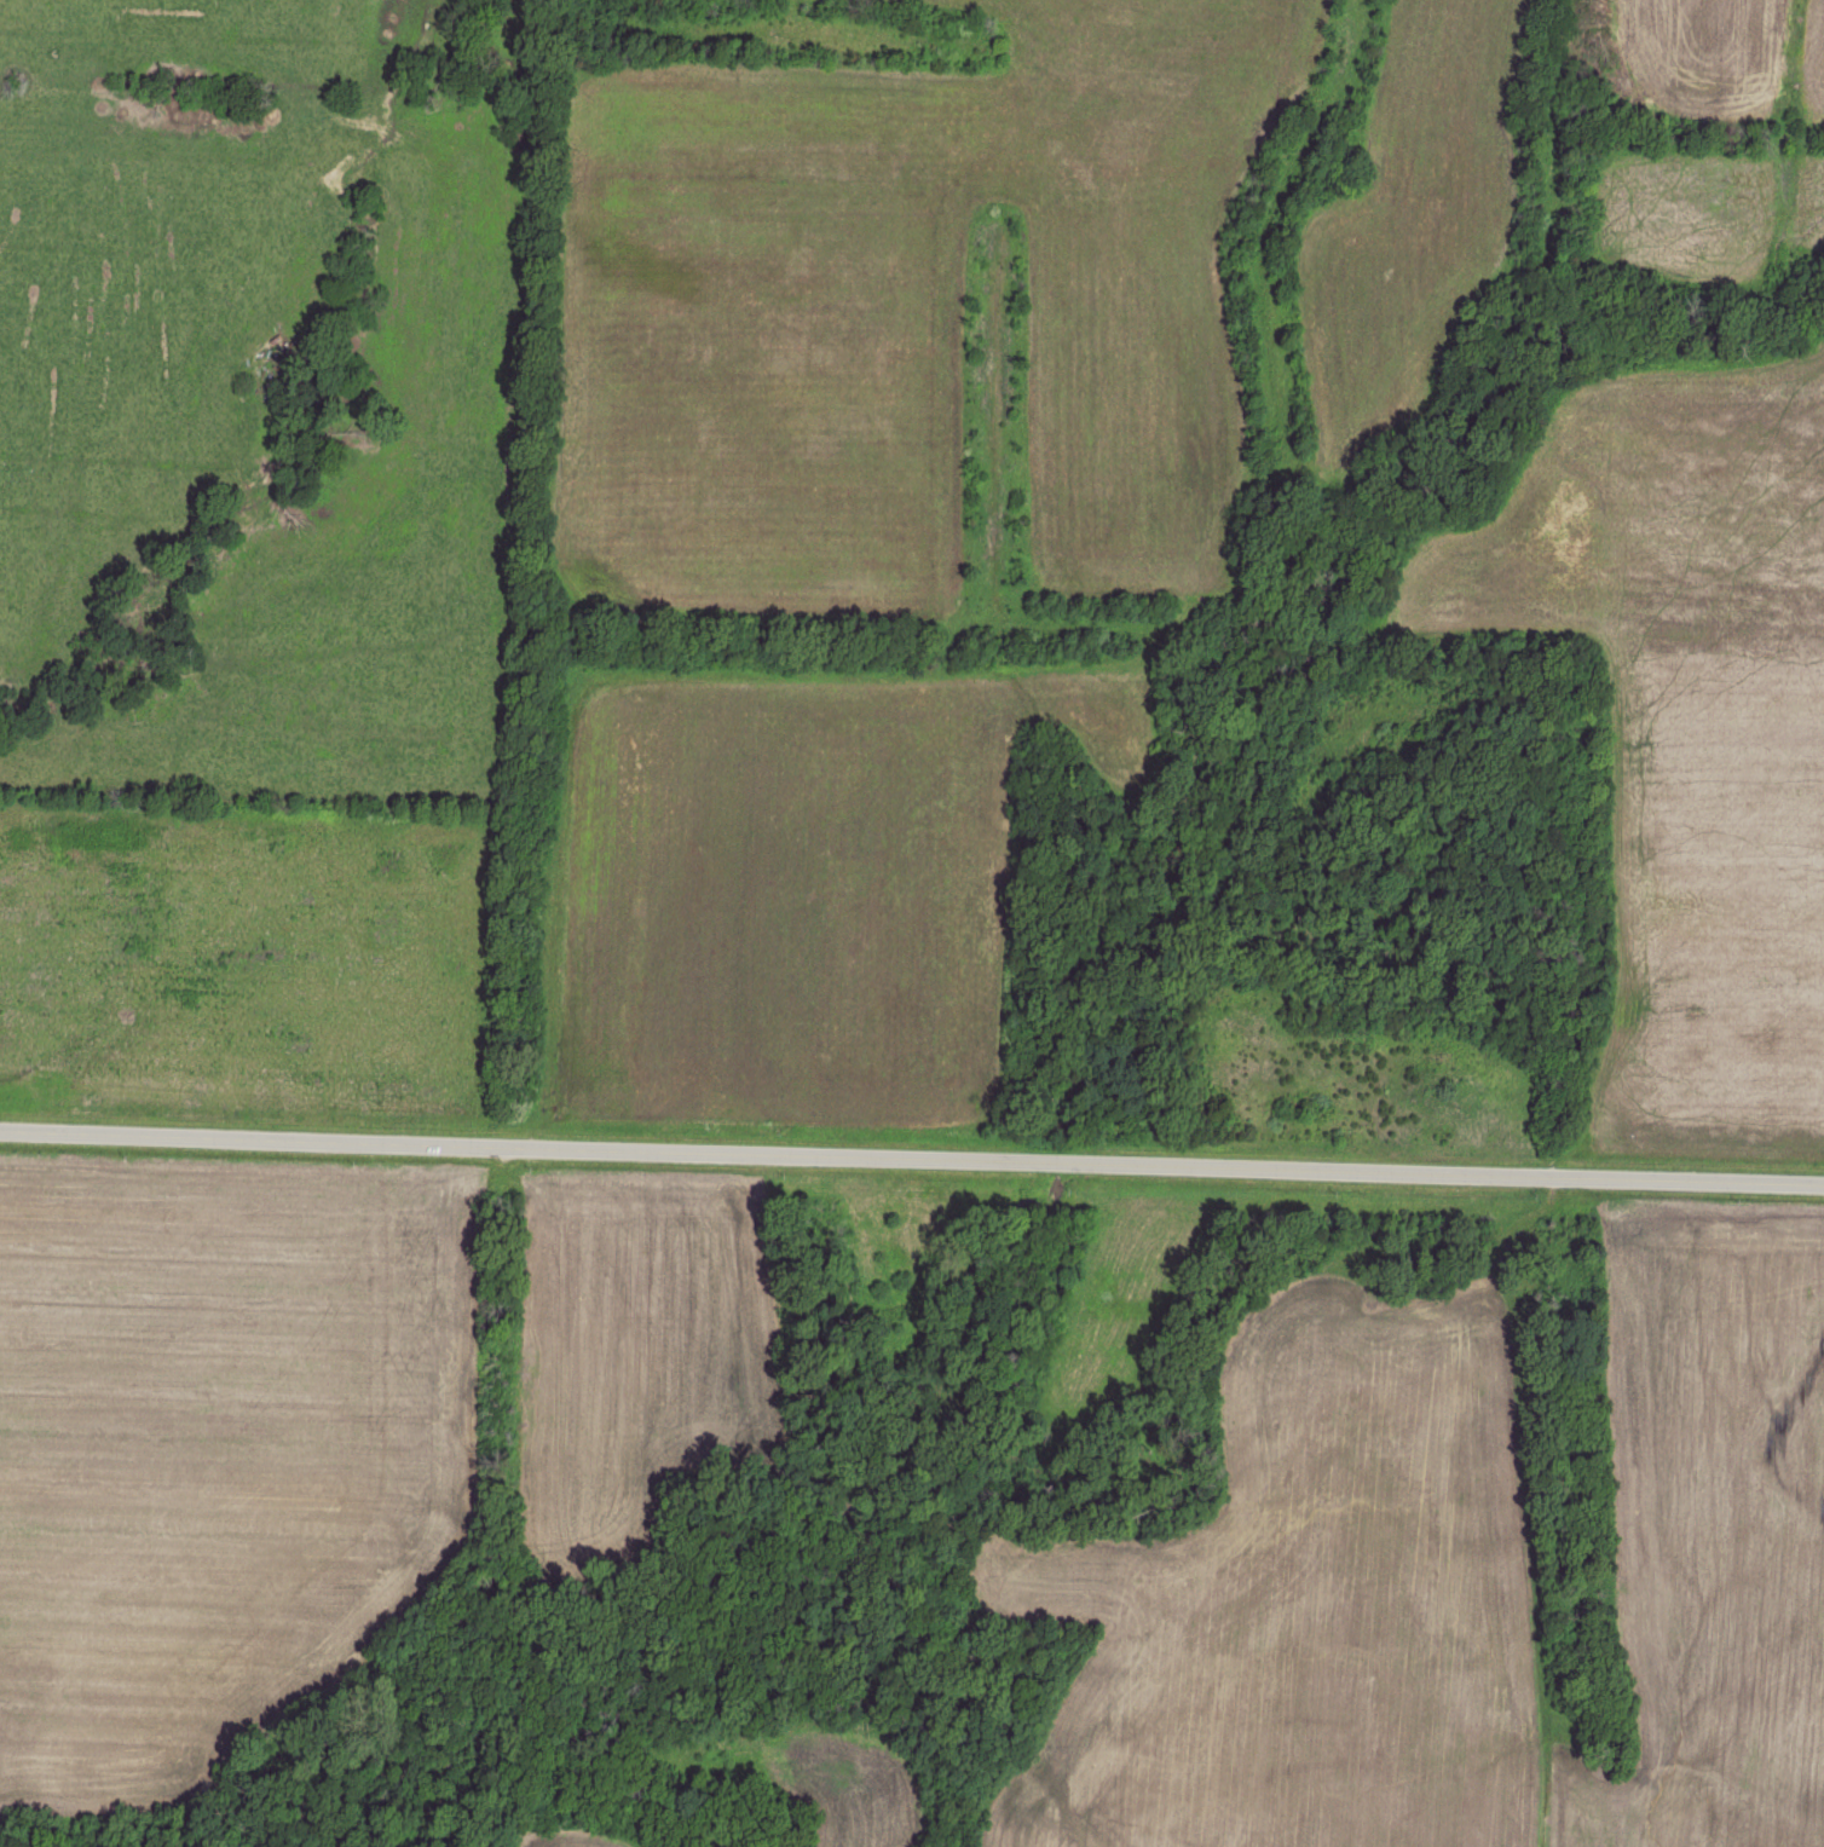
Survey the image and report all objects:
road: (912, 1158)

